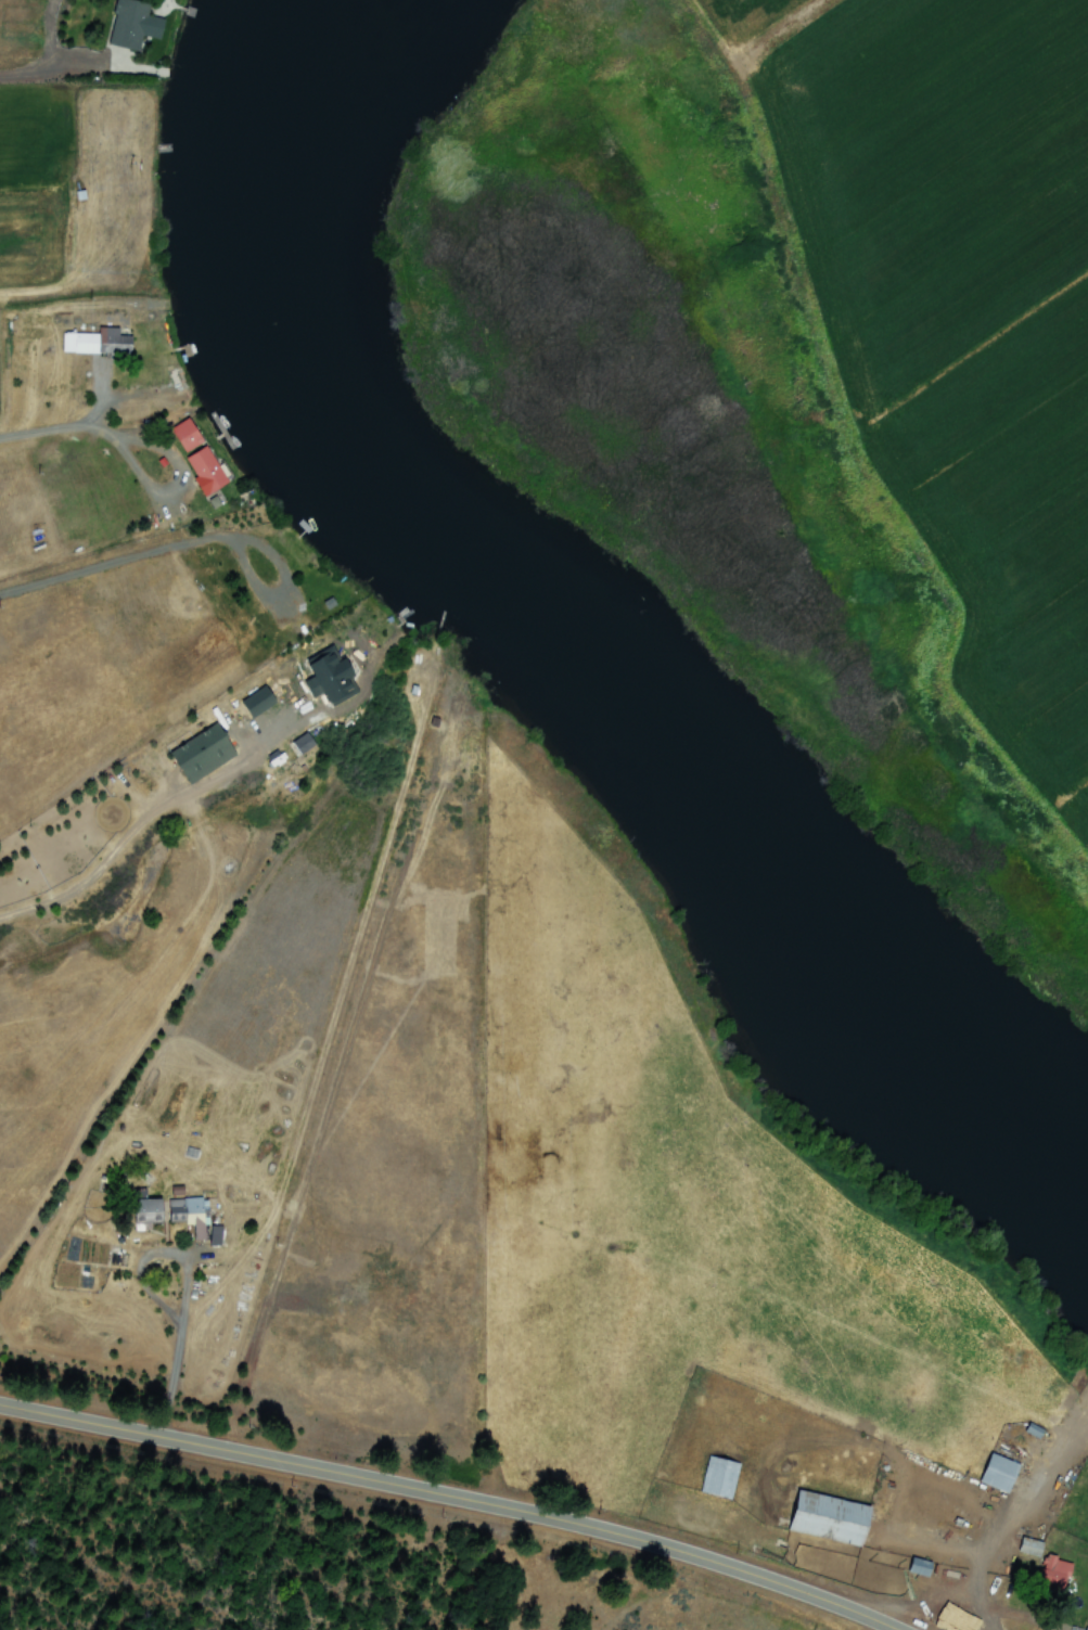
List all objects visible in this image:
building: (136, 23)
river: (282, 317)
building: (92, 341)
building: (190, 433)
building: (208, 471)
building: (261, 700)
building: (303, 743)
building: (206, 752)
river: (714, 813)
river: (1007, 1128)
building: (178, 1216)
building: (1001, 1472)
building: (720, 1475)
road: (433, 1498)
building: (833, 1517)
building: (1032, 1545)
road: (995, 1556)
building: (922, 1566)
building: (1058, 1571)
road: (976, 1605)
road: (868, 1625)
building: (1087, 1629)

